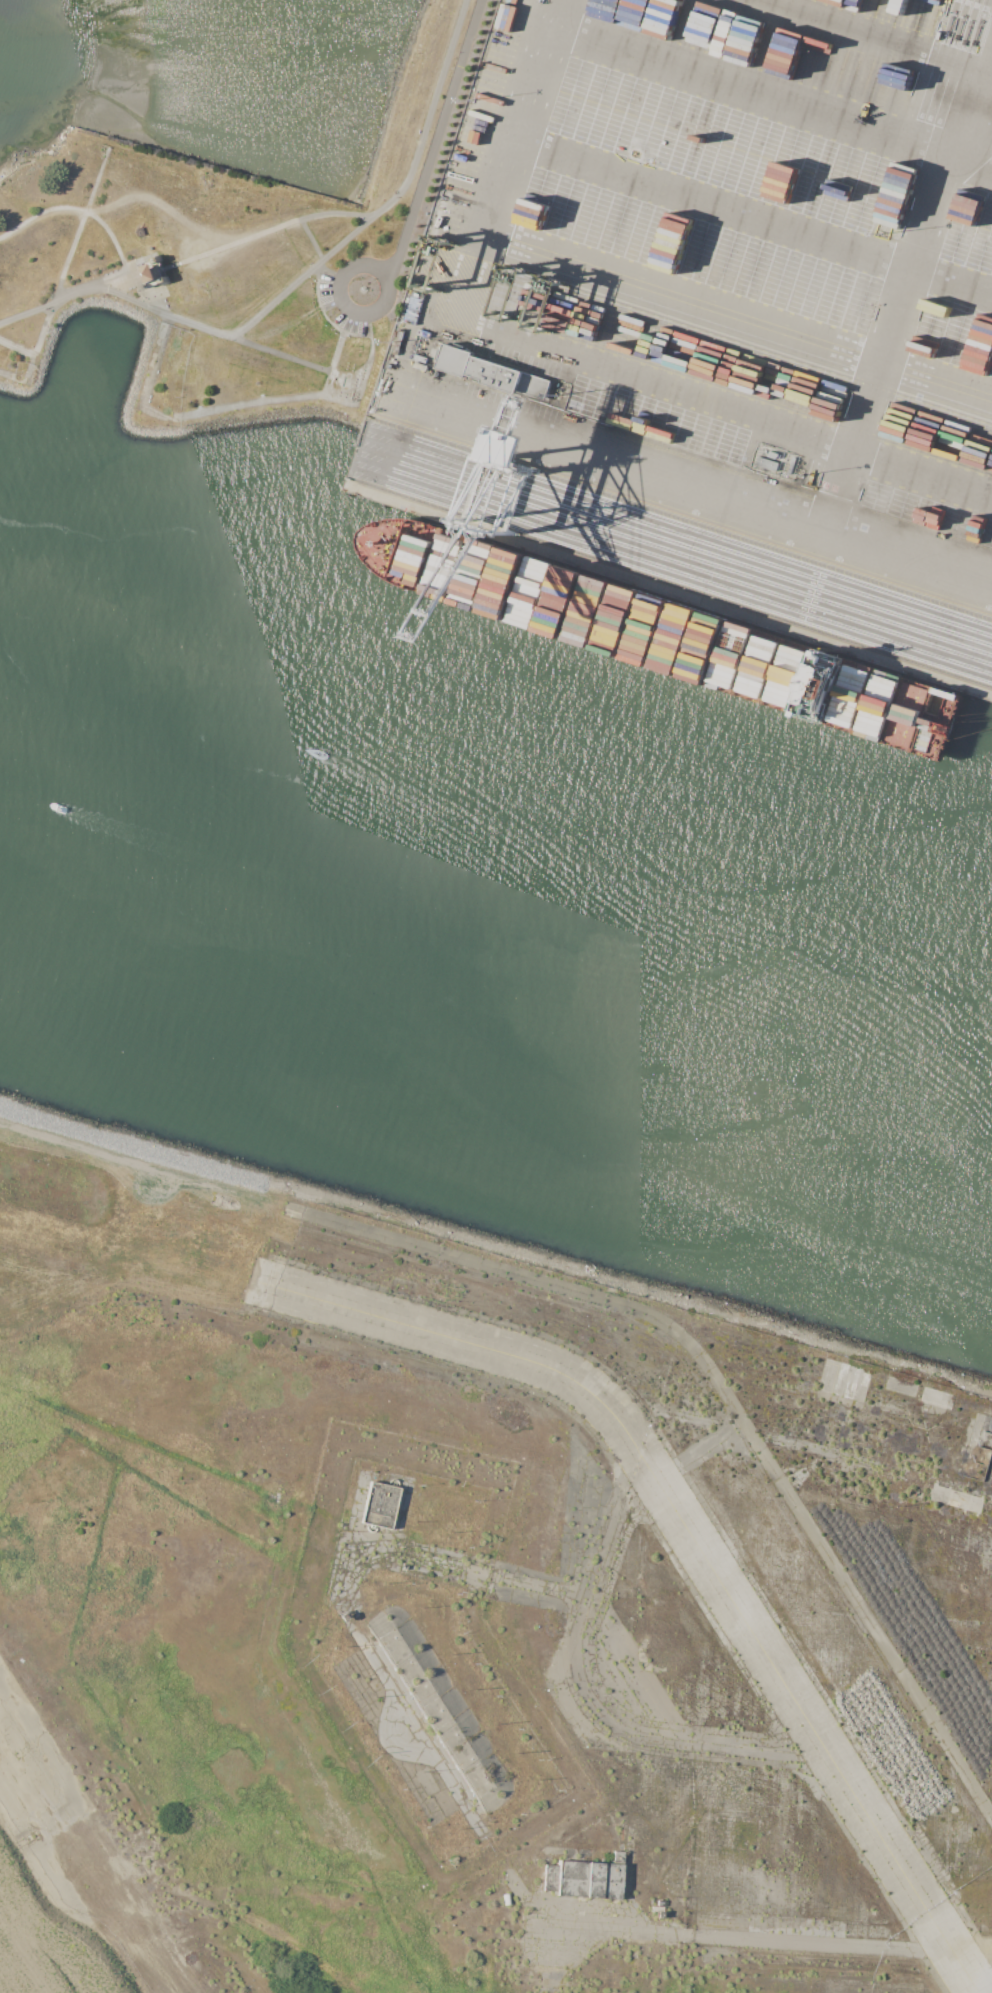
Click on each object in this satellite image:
building: (876, 8)
building: (897, 11)
building: (638, 12)
building: (921, 15)
road: (889, 31)
building: (496, 51)
building: (494, 80)
road: (438, 97)
road: (776, 98)
road: (438, 139)
building: (782, 177)
building: (968, 202)
road: (90, 216)
road: (757, 219)
road: (265, 233)
road: (310, 241)
road: (158, 256)
park: (234, 257)
road: (316, 265)
building: (149, 273)
road: (330, 275)
road: (60, 277)
road: (911, 278)
building: (416, 297)
parking lot: (330, 305)
road: (47, 306)
road: (351, 309)
road: (742, 312)
road: (162, 314)
building: (853, 326)
road: (17, 348)
building: (981, 349)
road: (571, 352)
road: (282, 356)
building: (492, 373)
road: (227, 408)
building: (403, 410)
building: (766, 463)
road: (705, 490)
building: (955, 527)
building: (485, 574)
river: (496, 900)
road: (619, 1305)
building: (380, 1505)
building: (584, 1879)

